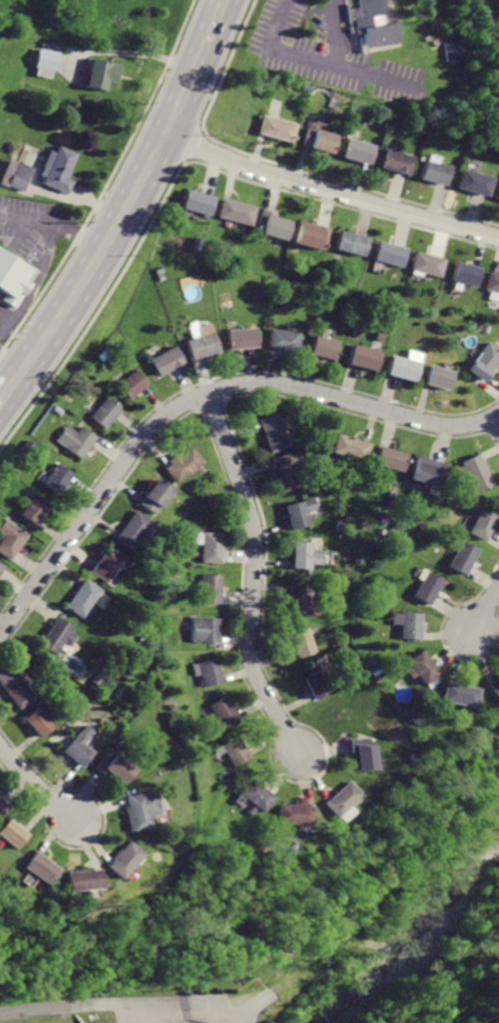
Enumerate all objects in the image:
building: (368, 23)
building: (448, 48)
road: (121, 53)
building: (46, 59)
road: (313, 59)
road: (227, 63)
building: (101, 72)
road: (375, 77)
road: (146, 103)
road: (200, 127)
building: (279, 129)
building: (321, 140)
road: (189, 142)
building: (360, 151)
road: (183, 159)
building: (399, 161)
building: (60, 170)
building: (435, 171)
building: (20, 174)
building: (472, 182)
road: (346, 184)
road: (330, 191)
building: (497, 193)
road: (76, 199)
building: (198, 202)
road: (341, 204)
road: (125, 211)
building: (237, 211)
road: (55, 222)
building: (272, 222)
building: (313, 235)
building: (352, 243)
building: (390, 253)
building: (427, 263)
building: (465, 273)
building: (12, 278)
road: (37, 279)
building: (492, 281)
building: (246, 337)
building: (285, 339)
building: (204, 345)
building: (327, 347)
building: (365, 357)
road: (12, 360)
building: (169, 360)
building: (482, 362)
building: (404, 366)
building: (437, 377)
building: (132, 383)
road: (197, 399)
building: (106, 411)
road: (496, 421)
building: (276, 432)
building: (74, 440)
building: (351, 447)
building: (389, 459)
building: (183, 464)
building: (475, 472)
building: (286, 473)
building: (427, 474)
building: (56, 479)
building: (154, 498)
building: (36, 509)
building: (303, 512)
building: (484, 523)
building: (132, 531)
building: (12, 540)
building: (212, 548)
building: (308, 556)
building: (462, 557)
building: (1, 564)
building: (106, 566)
building: (1, 568)
road: (255, 576)
building: (429, 587)
building: (210, 588)
building: (82, 599)
building: (301, 599)
road: (487, 613)
building: (410, 624)
building: (205, 631)
building: (57, 637)
building: (305, 642)
building: (423, 668)
building: (207, 672)
building: (320, 685)
building: (16, 687)
building: (494, 687)
building: (464, 694)
building: (223, 712)
building: (42, 721)
building: (80, 748)
building: (235, 752)
building: (364, 753)
building: (119, 769)
road: (36, 785)
building: (255, 795)
building: (341, 800)
building: (2, 807)
building: (142, 811)
building: (294, 814)
building: (12, 834)
building: (124, 860)
building: (41, 869)
building: (83, 880)
road: (94, 1005)
road: (251, 1007)
road: (210, 1012)
road: (233, 1022)

